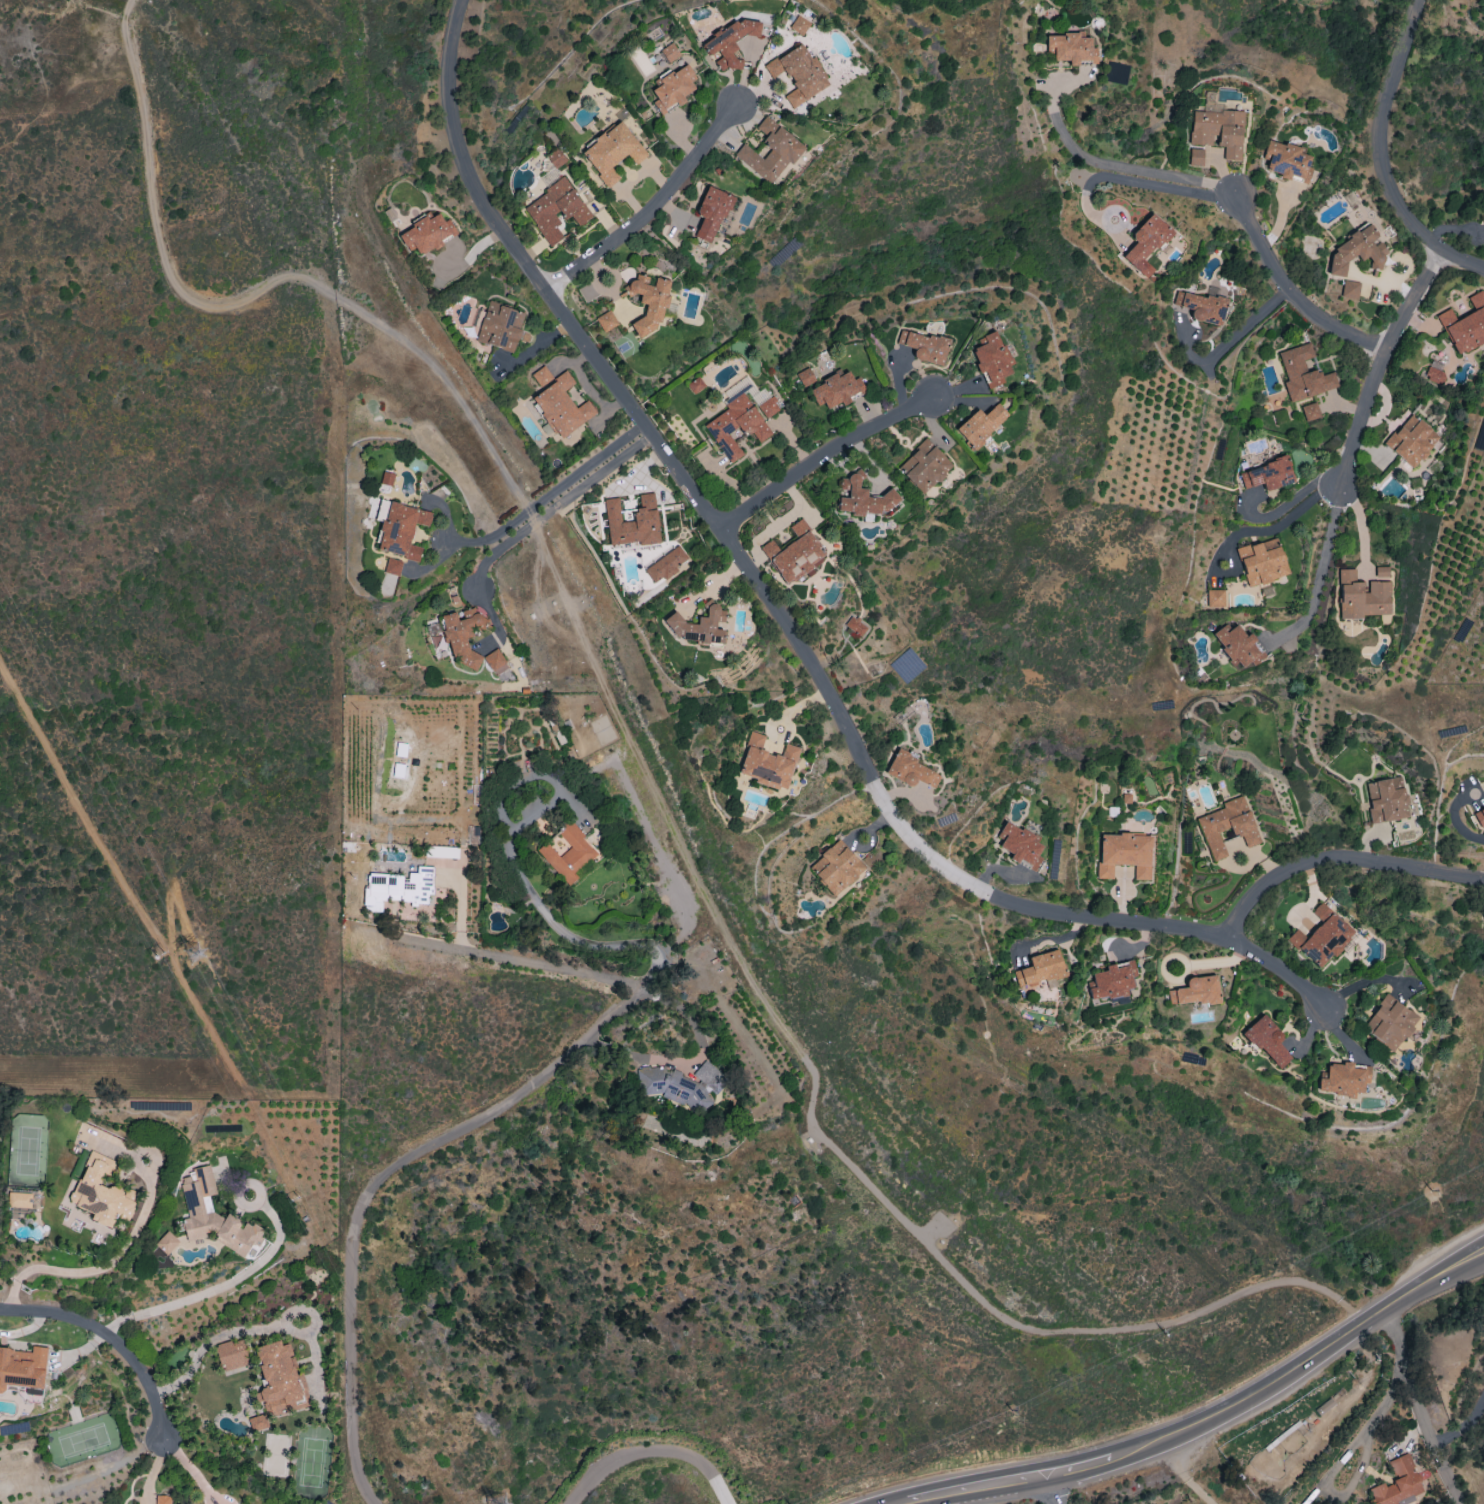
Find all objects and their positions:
building: (799, 25)
building: (731, 41)
building: (1072, 48)
building: (669, 52)
building: (1116, 72)
building: (798, 73)
building: (673, 88)
building: (1218, 129)
road: (1393, 150)
building: (612, 151)
building: (771, 151)
building: (1196, 157)
building: (1286, 161)
road: (1103, 164)
road: (1132, 182)
road: (652, 208)
building: (555, 210)
building: (711, 213)
building: (427, 234)
building: (1145, 244)
building: (1357, 251)
building: (1349, 289)
road: (1292, 291)
building: (650, 300)
building: (1203, 305)
building: (606, 321)
building: (497, 325)
building: (1465, 325)
road: (1230, 342)
building: (924, 346)
building: (992, 359)
road: (1385, 361)
building: (1435, 373)
building: (1303, 374)
building: (805, 376)
building: (695, 385)
building: (836, 390)
building: (559, 402)
building: (768, 407)
building: (1310, 411)
building: (980, 425)
building: (735, 426)
building: (1413, 440)
road: (820, 455)
building: (924, 466)
building: (1267, 475)
building: (386, 478)
road: (554, 488)
building: (863, 497)
building: (632, 522)
road: (528, 525)
road: (1361, 525)
road: (1280, 526)
building: (401, 530)
building: (794, 554)
building: (1262, 561)
building: (666, 564)
building: (392, 566)
road: (1323, 574)
building: (1364, 594)
building: (1215, 598)
road: (543, 611)
road: (784, 619)
building: (699, 626)
building: (856, 626)
building: (462, 635)
building: (1238, 646)
building: (495, 662)
building: (767, 763)
building: (910, 770)
road: (651, 773)
building: (1386, 799)
building: (1479, 818)
road: (1458, 825)
building: (1227, 826)
building: (1020, 845)
building: (442, 851)
building: (569, 853)
building: (1125, 854)
road: (1341, 866)
building: (836, 867)
road: (113, 871)
road: (525, 888)
building: (397, 889)
building: (1321, 937)
road: (634, 941)
power tower: (152, 951)
power tower: (193, 955)
road: (500, 957)
building: (1040, 968)
building: (1112, 980)
road: (1362, 982)
building: (1195, 991)
building: (1390, 1023)
building: (1267, 1041)
road: (692, 1066)
building: (1343, 1079)
building: (683, 1085)
road: (390, 1169)
building: (100, 1192)
building: (19, 1199)
power tower: (295, 1203)
building: (212, 1214)
building: (166, 1242)
road: (103, 1266)
road: (222, 1288)
road: (107, 1339)
road: (212, 1341)
building: (231, 1354)
road: (1301, 1360)
building: (23, 1369)
road: (1411, 1374)
building: (280, 1379)
building: (258, 1422)
road: (1464, 1425)
road: (654, 1451)
road: (1348, 1451)
road: (1080, 1463)
road: (188, 1468)
road: (1180, 1472)
road: (1449, 1472)
road: (977, 1483)
building: (1398, 1483)
road: (1051, 1487)
building: (162, 1499)
road: (896, 1501)

